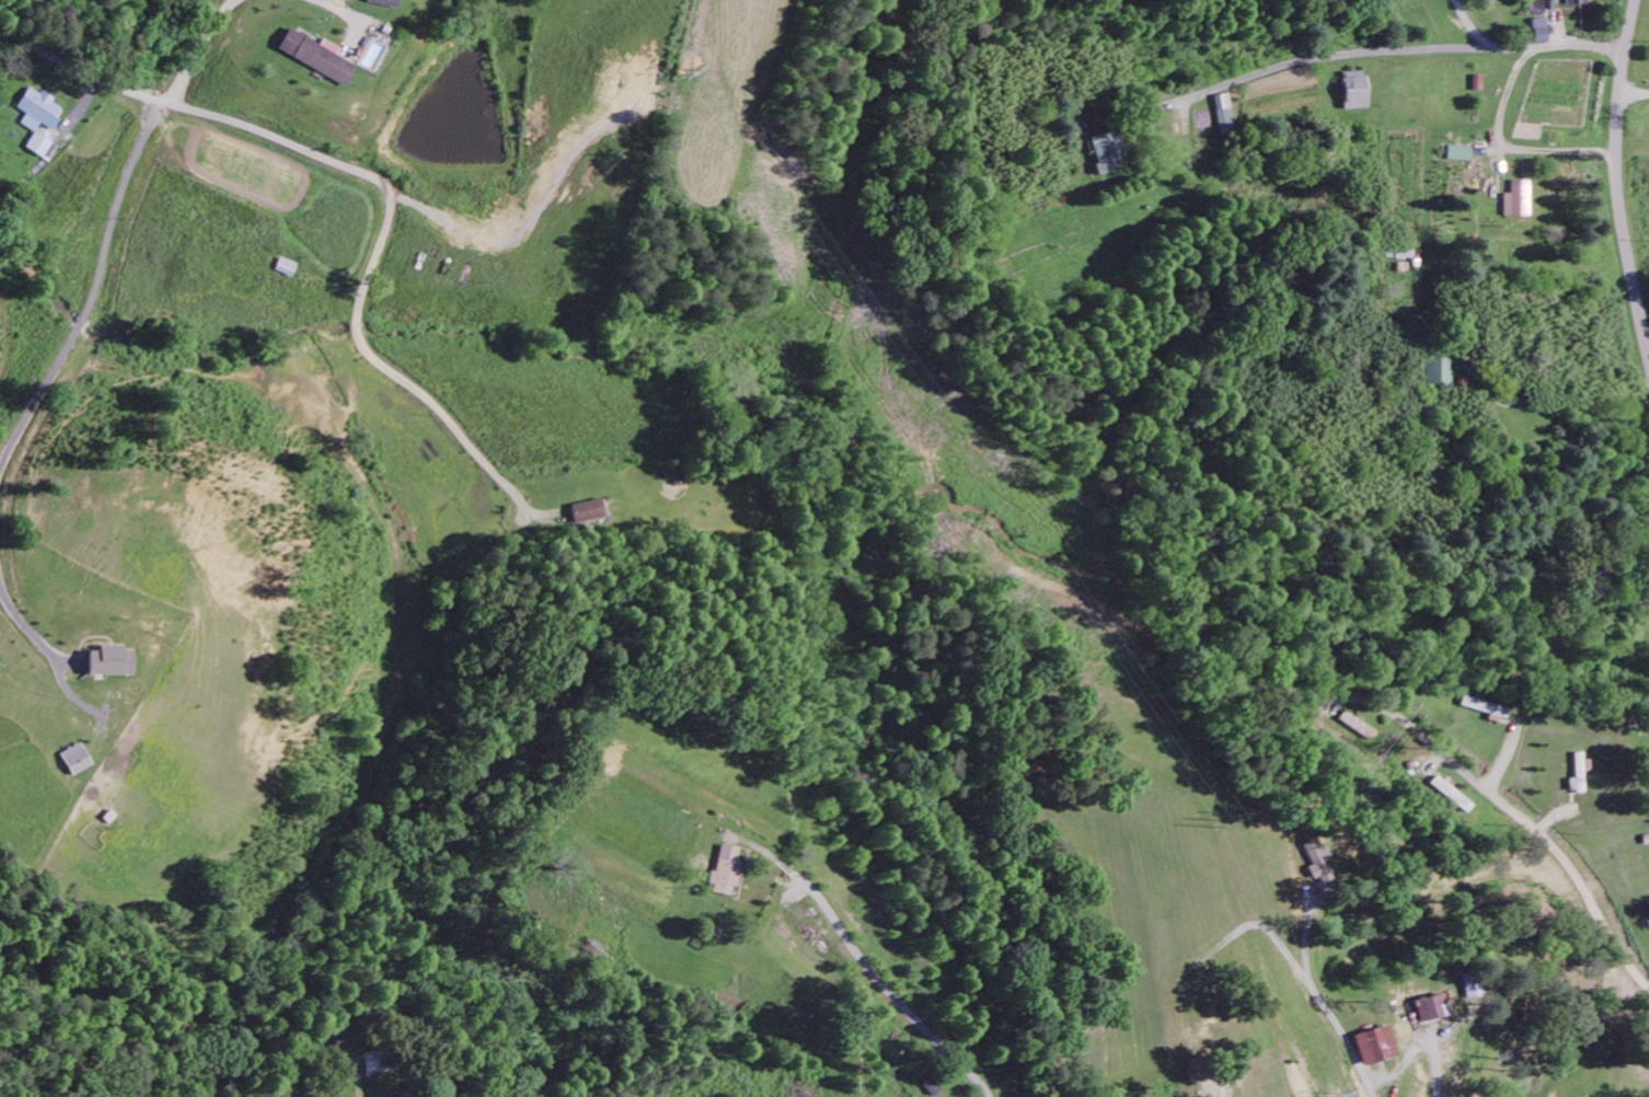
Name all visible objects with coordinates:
building: (1576, 3)
building: (384, 4)
building: (1540, 34)
road: (1405, 49)
building: (315, 59)
building: (1354, 93)
building: (1223, 117)
building: (42, 124)
building: (1107, 153)
building: (1461, 155)
road: (362, 172)
road: (1616, 185)
building: (1518, 203)
building: (287, 270)
building: (1440, 373)
building: (589, 513)
building: (113, 663)
building: (1369, 734)
building: (77, 761)
building: (1580, 775)
building: (1456, 795)
road: (1545, 836)
building: (1314, 863)
building: (726, 874)
building: (1471, 988)
road: (897, 1002)
building: (1431, 1009)
building: (1375, 1048)

